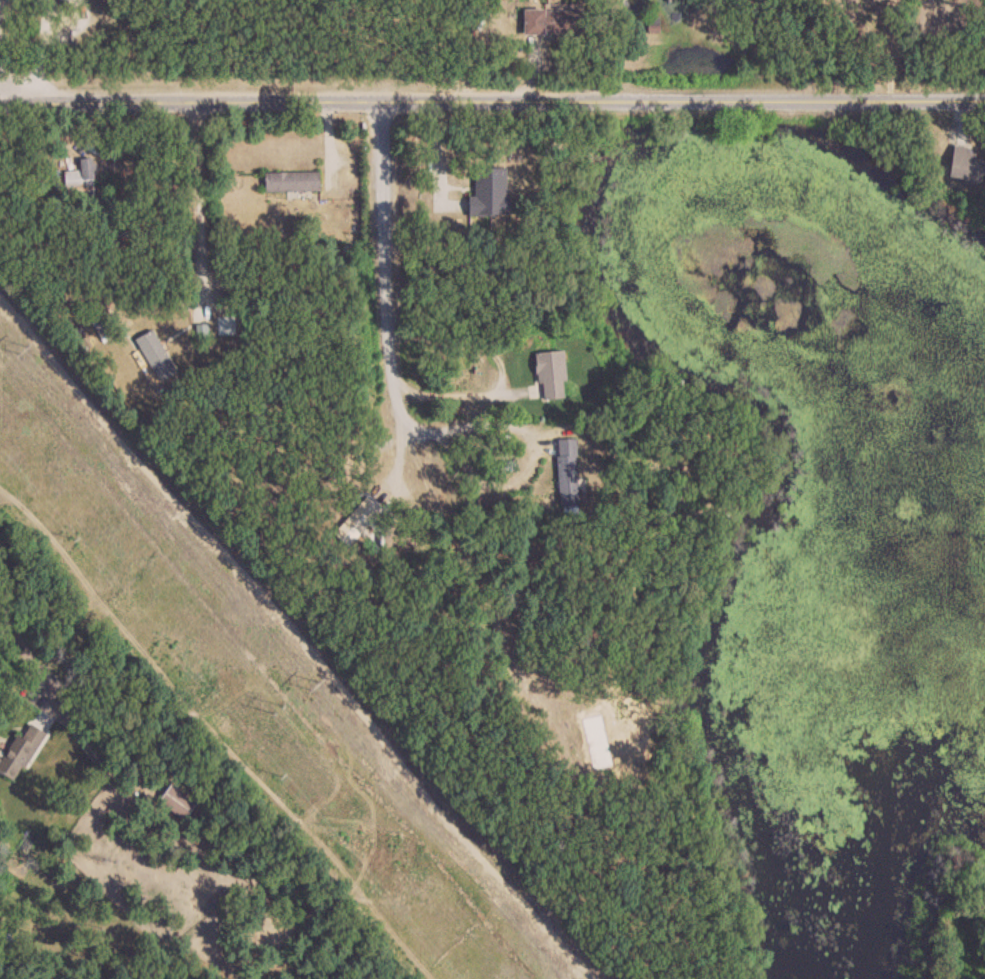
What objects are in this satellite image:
building: (558, 23)
road: (492, 96)
building: (959, 164)
building: (82, 178)
building: (294, 181)
building: (492, 191)
road: (200, 196)
road: (385, 271)
road: (91, 299)
building: (102, 328)
power tower: (20, 349)
building: (158, 356)
road: (502, 366)
building: (555, 375)
road: (536, 443)
building: (570, 472)
building: (360, 521)
road: (22, 646)
power tower: (313, 685)
power tower: (276, 708)
building: (22, 752)
building: (178, 802)
building: (221, 898)

